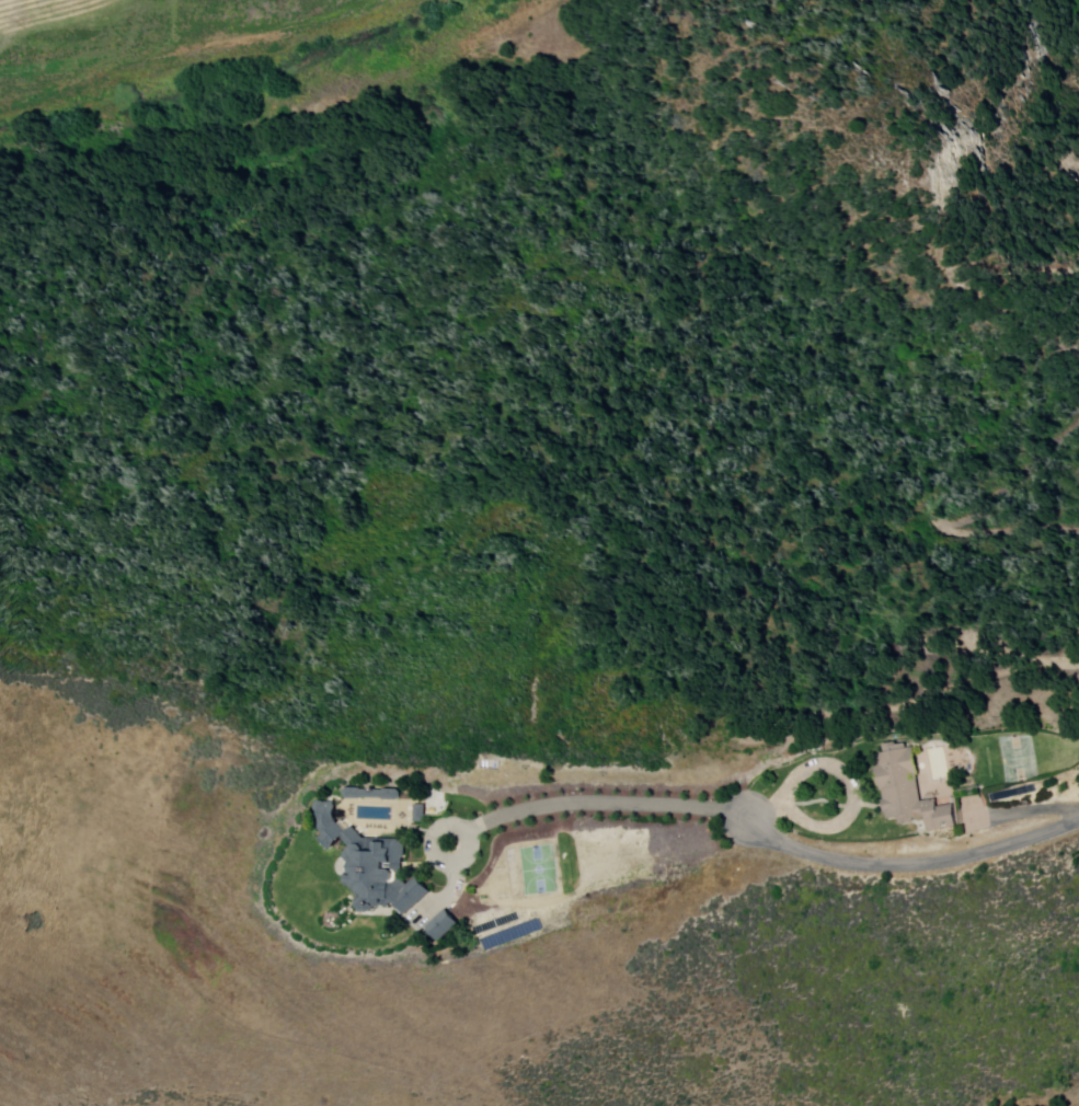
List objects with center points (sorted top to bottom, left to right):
crop: (151, 38)
park: (1020, 759)
building: (909, 791)
building: (371, 794)
building: (420, 814)
road: (772, 839)
building: (371, 866)
park: (540, 872)
building: (433, 923)
building: (441, 926)

